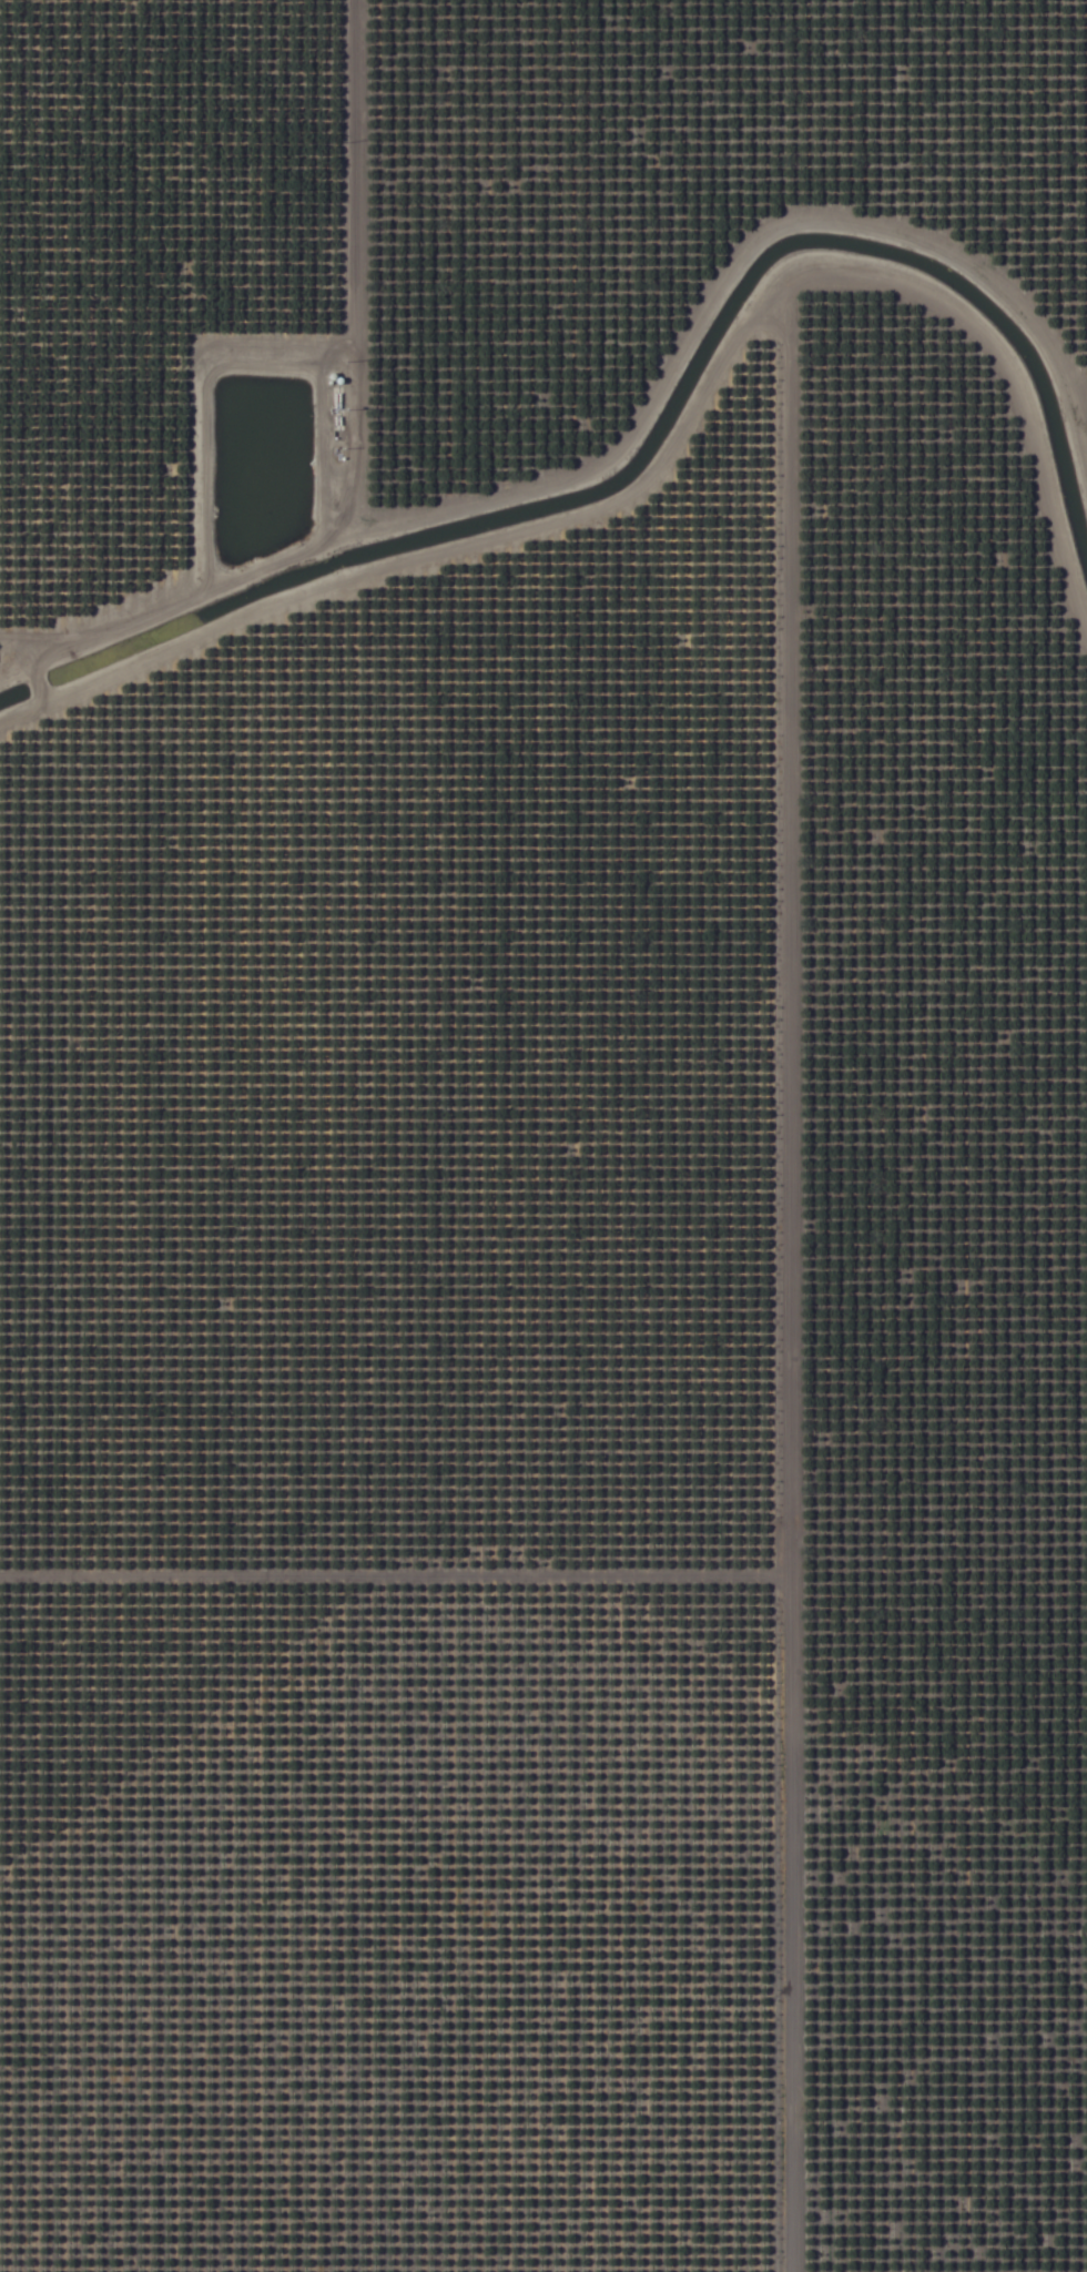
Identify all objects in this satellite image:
building: (73, 0)
building: (51, 226)
building: (64, 316)
building: (11, 324)
crop: (543, 1136)
building: (285, 2068)
building: (897, 2162)

